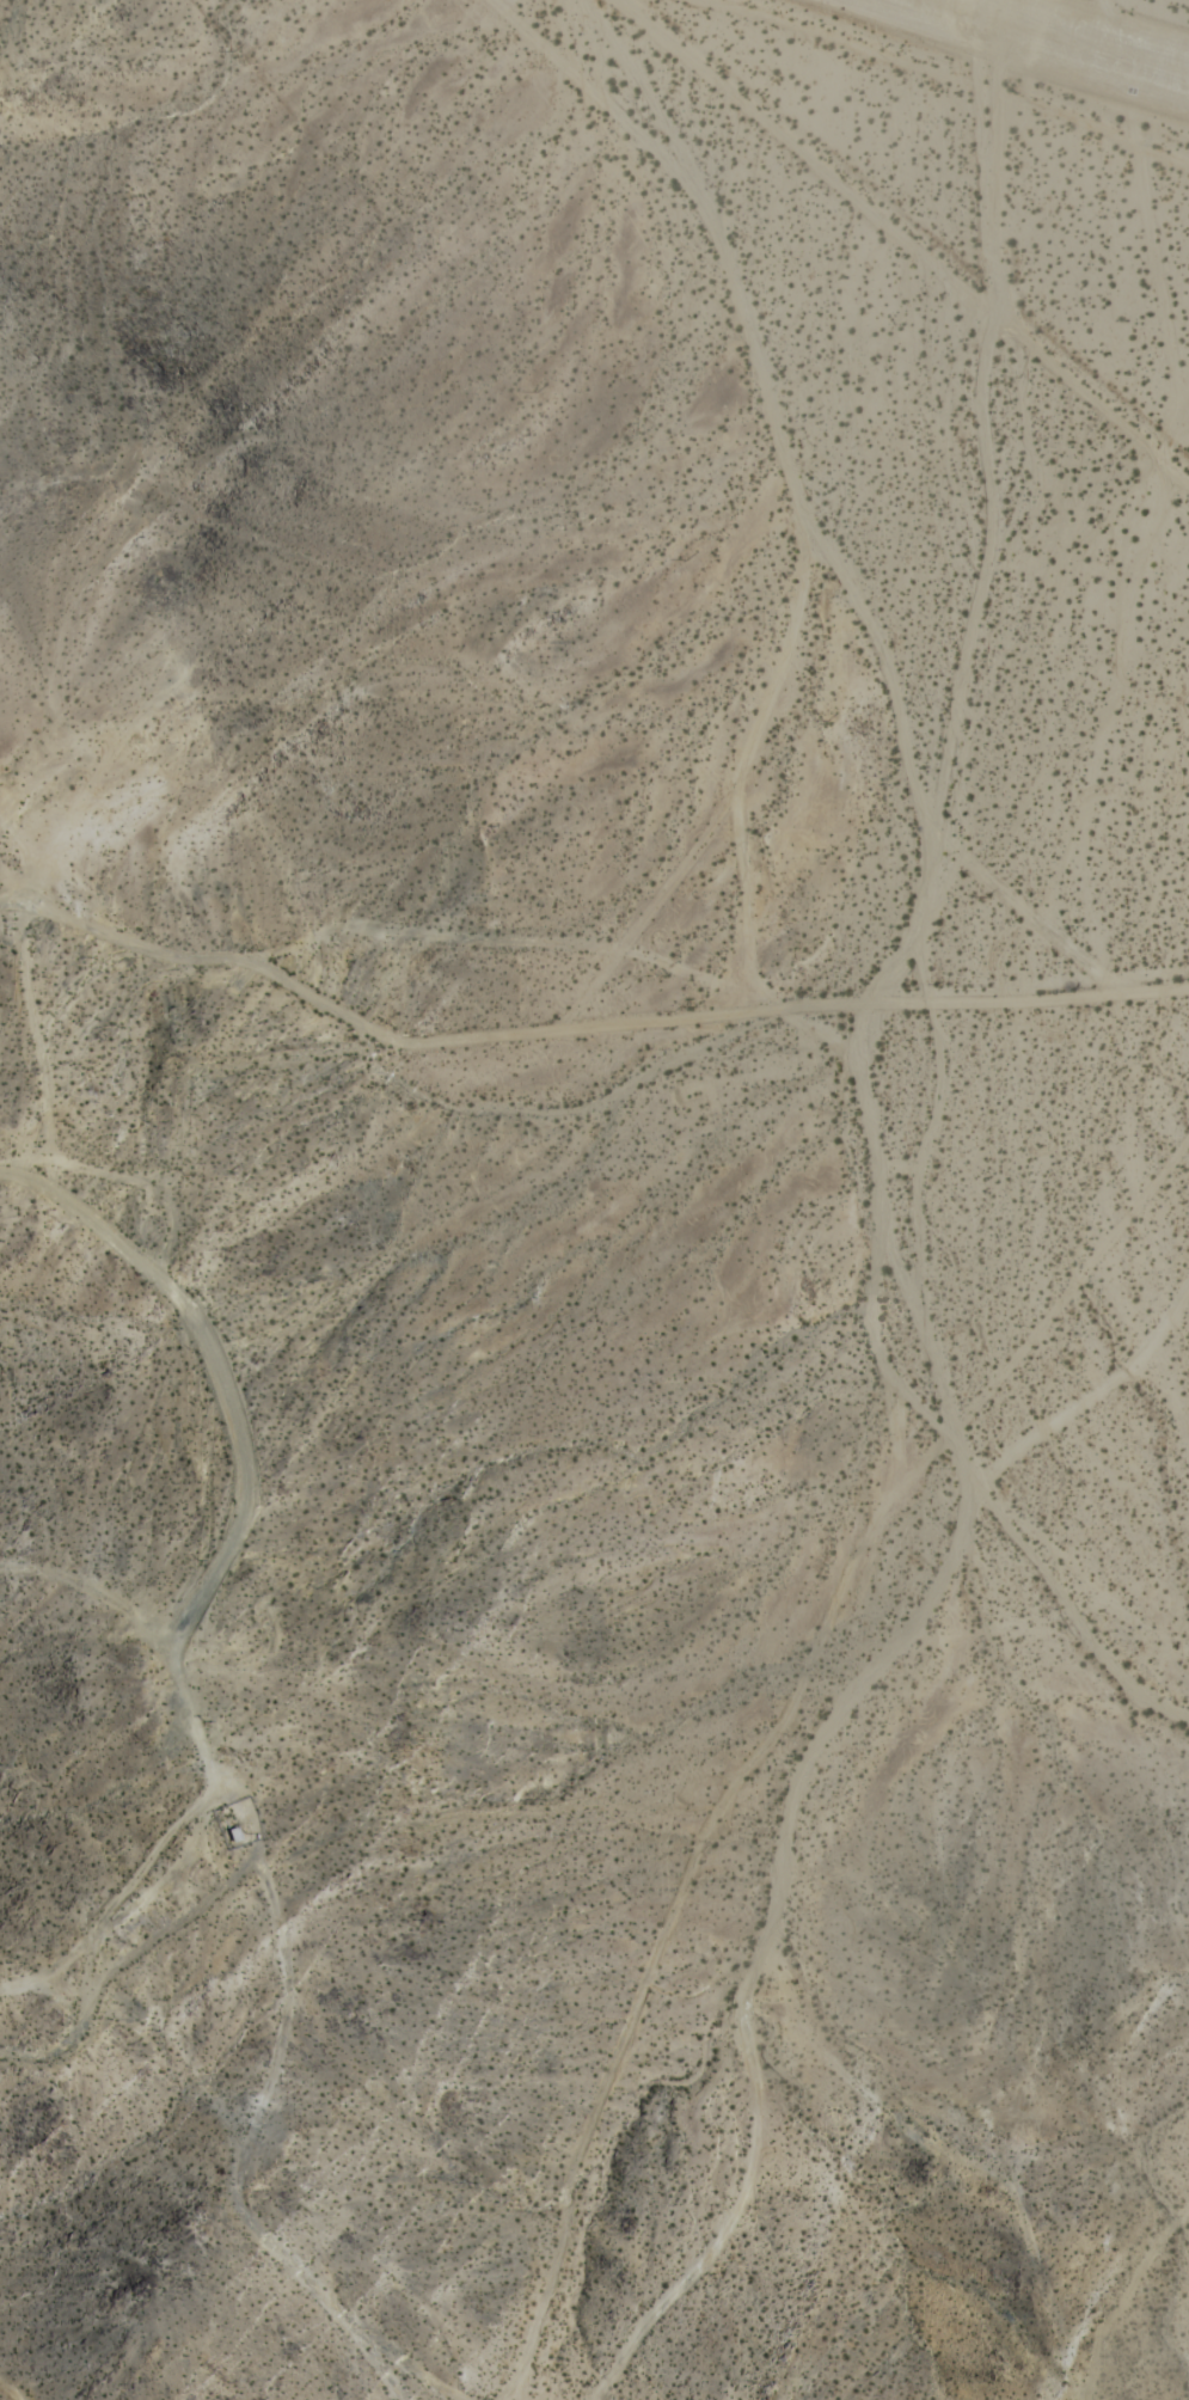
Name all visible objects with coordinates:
airport apron: (1055, 37)
airport: (945, 304)
road: (590, 953)
road: (245, 1435)
road: (116, 1897)

